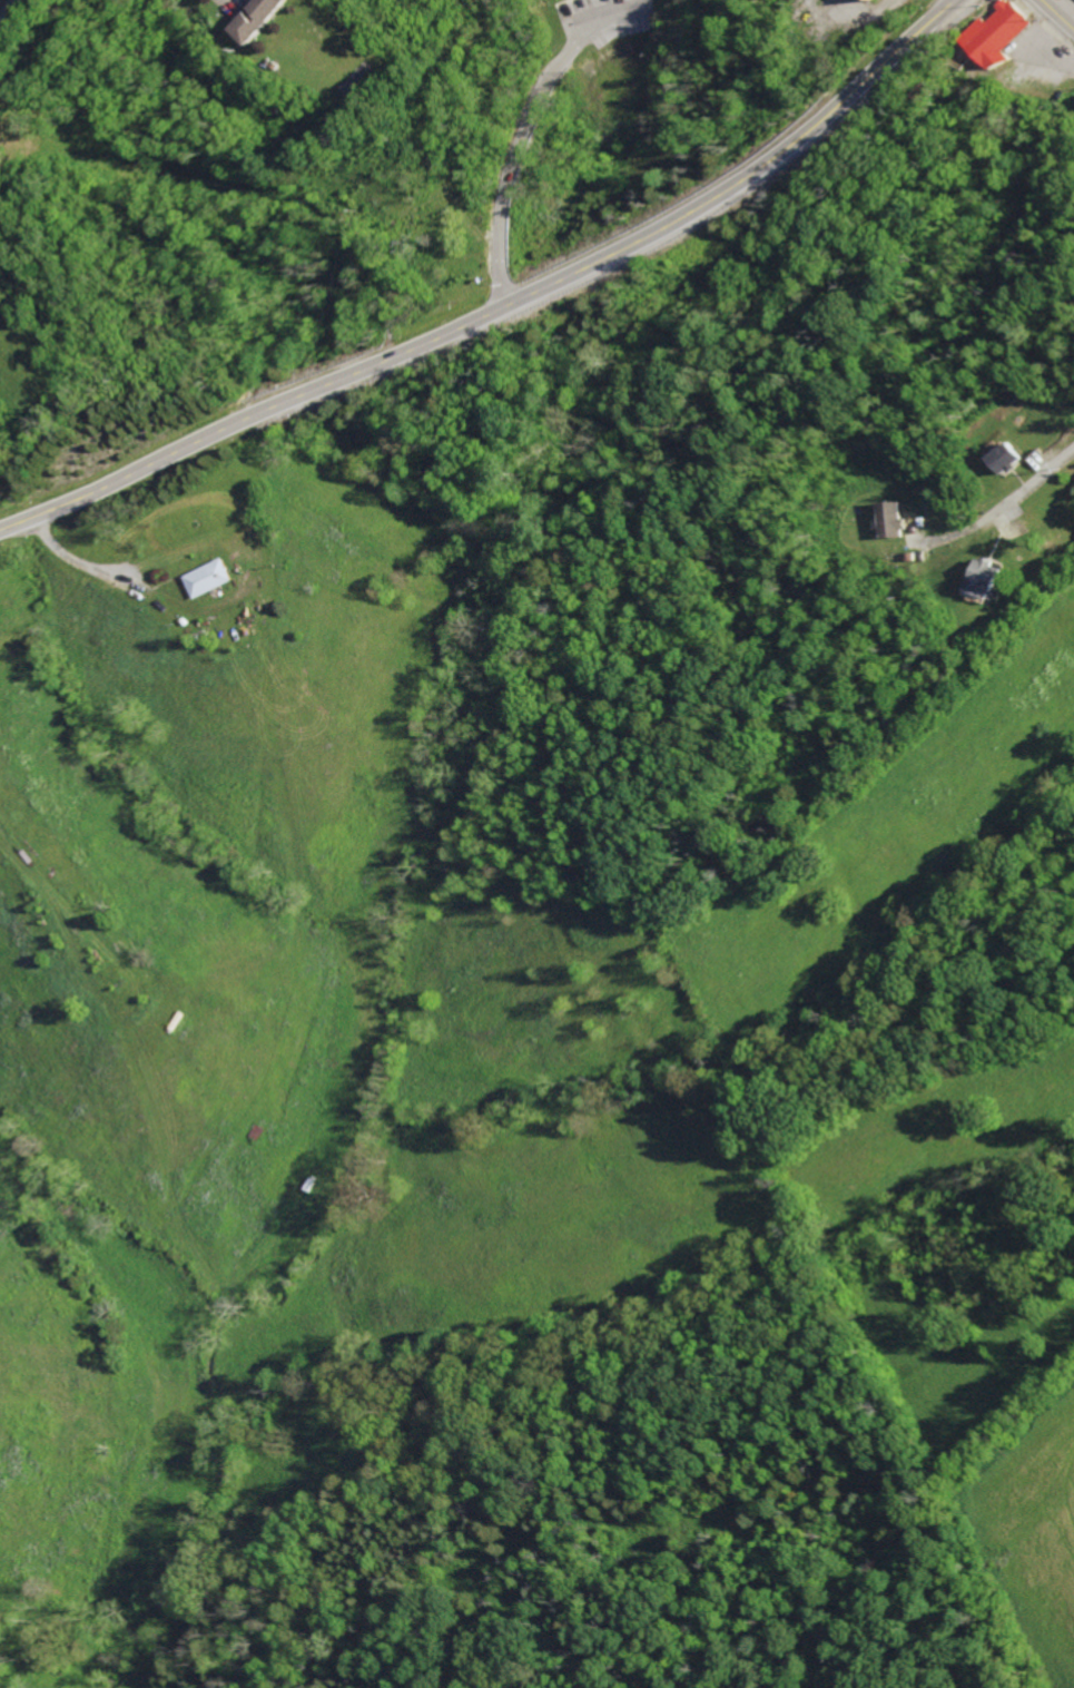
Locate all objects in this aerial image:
building: (880, 0)
road: (565, 2)
road: (599, 9)
road: (1061, 11)
road: (10, 13)
building: (258, 19)
building: (1002, 36)
road: (536, 133)
road: (51, 232)
road: (509, 311)
building: (1009, 461)
road: (1038, 481)
building: (895, 521)
building: (214, 579)
building: (987, 581)
road: (55, 935)

